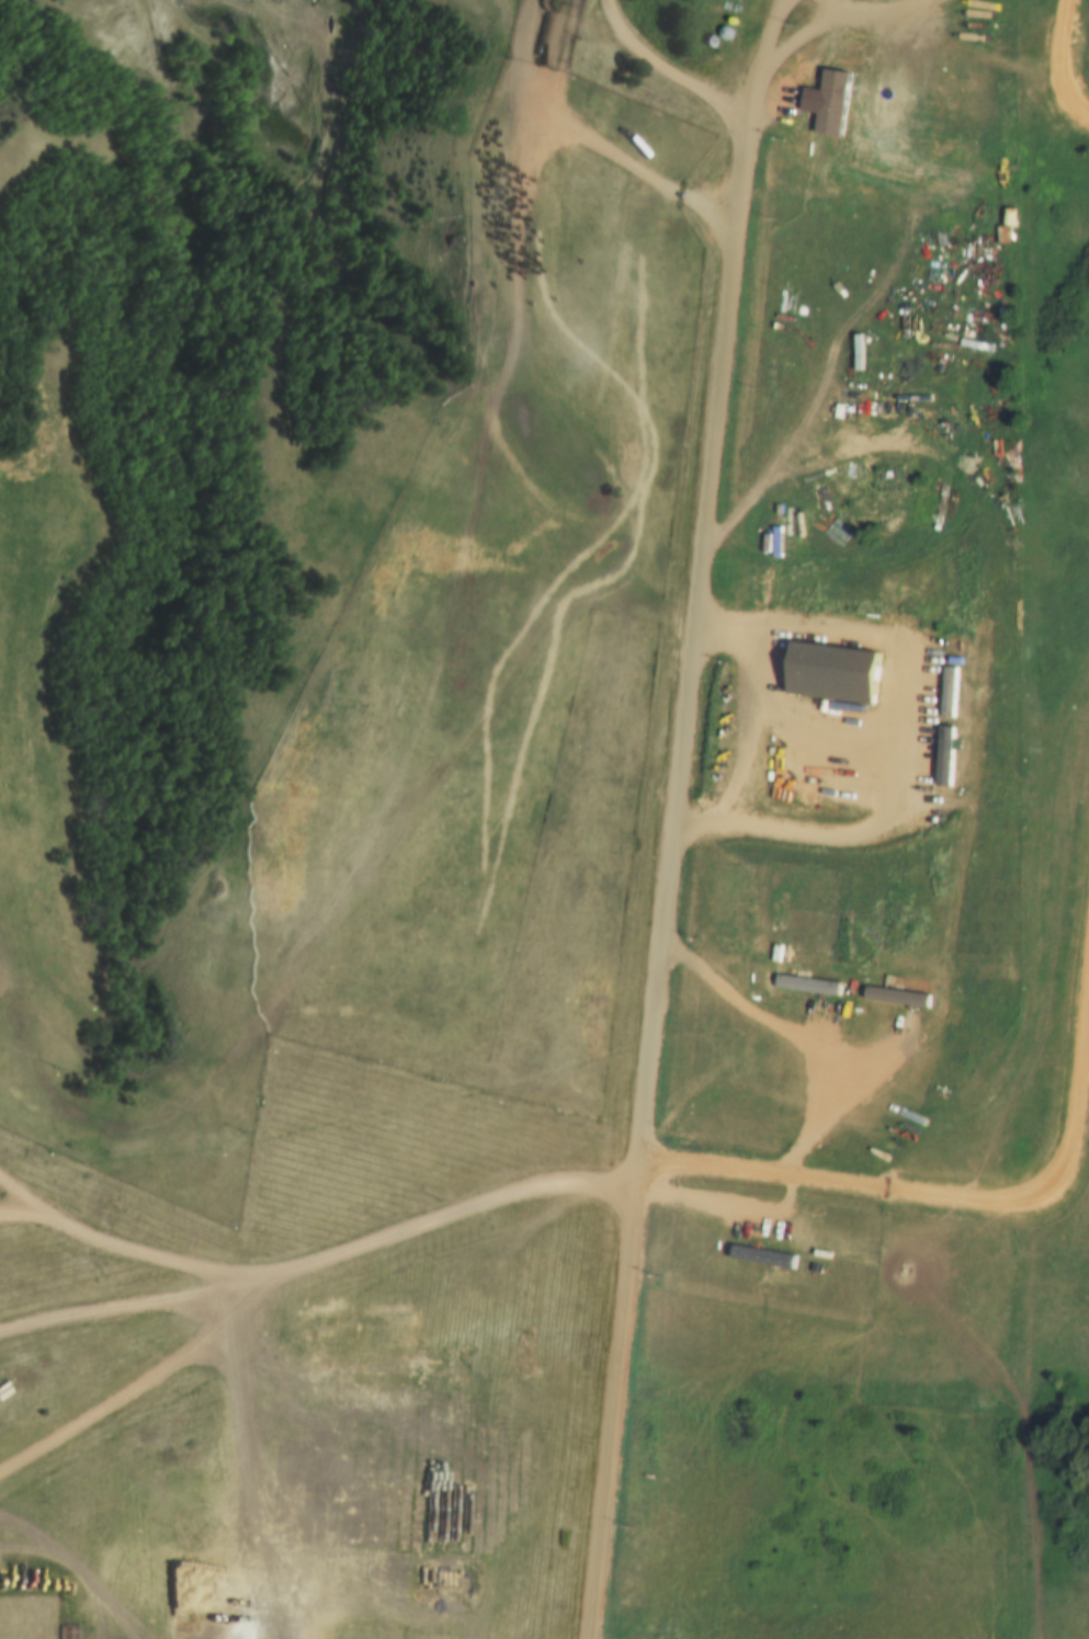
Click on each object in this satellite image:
road: (499, 12)
road: (905, 15)
building: (723, 32)
silo: (723, 32)
building: (706, 38)
silo: (706, 38)
building: (830, 45)
silo: (830, 45)
road: (656, 61)
building: (704, 65)
silo: (704, 65)
road: (1055, 65)
building: (678, 226)
road: (525, 332)
road: (875, 353)
building: (986, 469)
building: (920, 496)
road: (701, 574)
building: (831, 670)
road: (385, 818)
building: (807, 986)
building: (893, 998)
road: (983, 1196)
road: (19, 1208)
road: (315, 1255)
building: (760, 1257)
road: (614, 1397)

